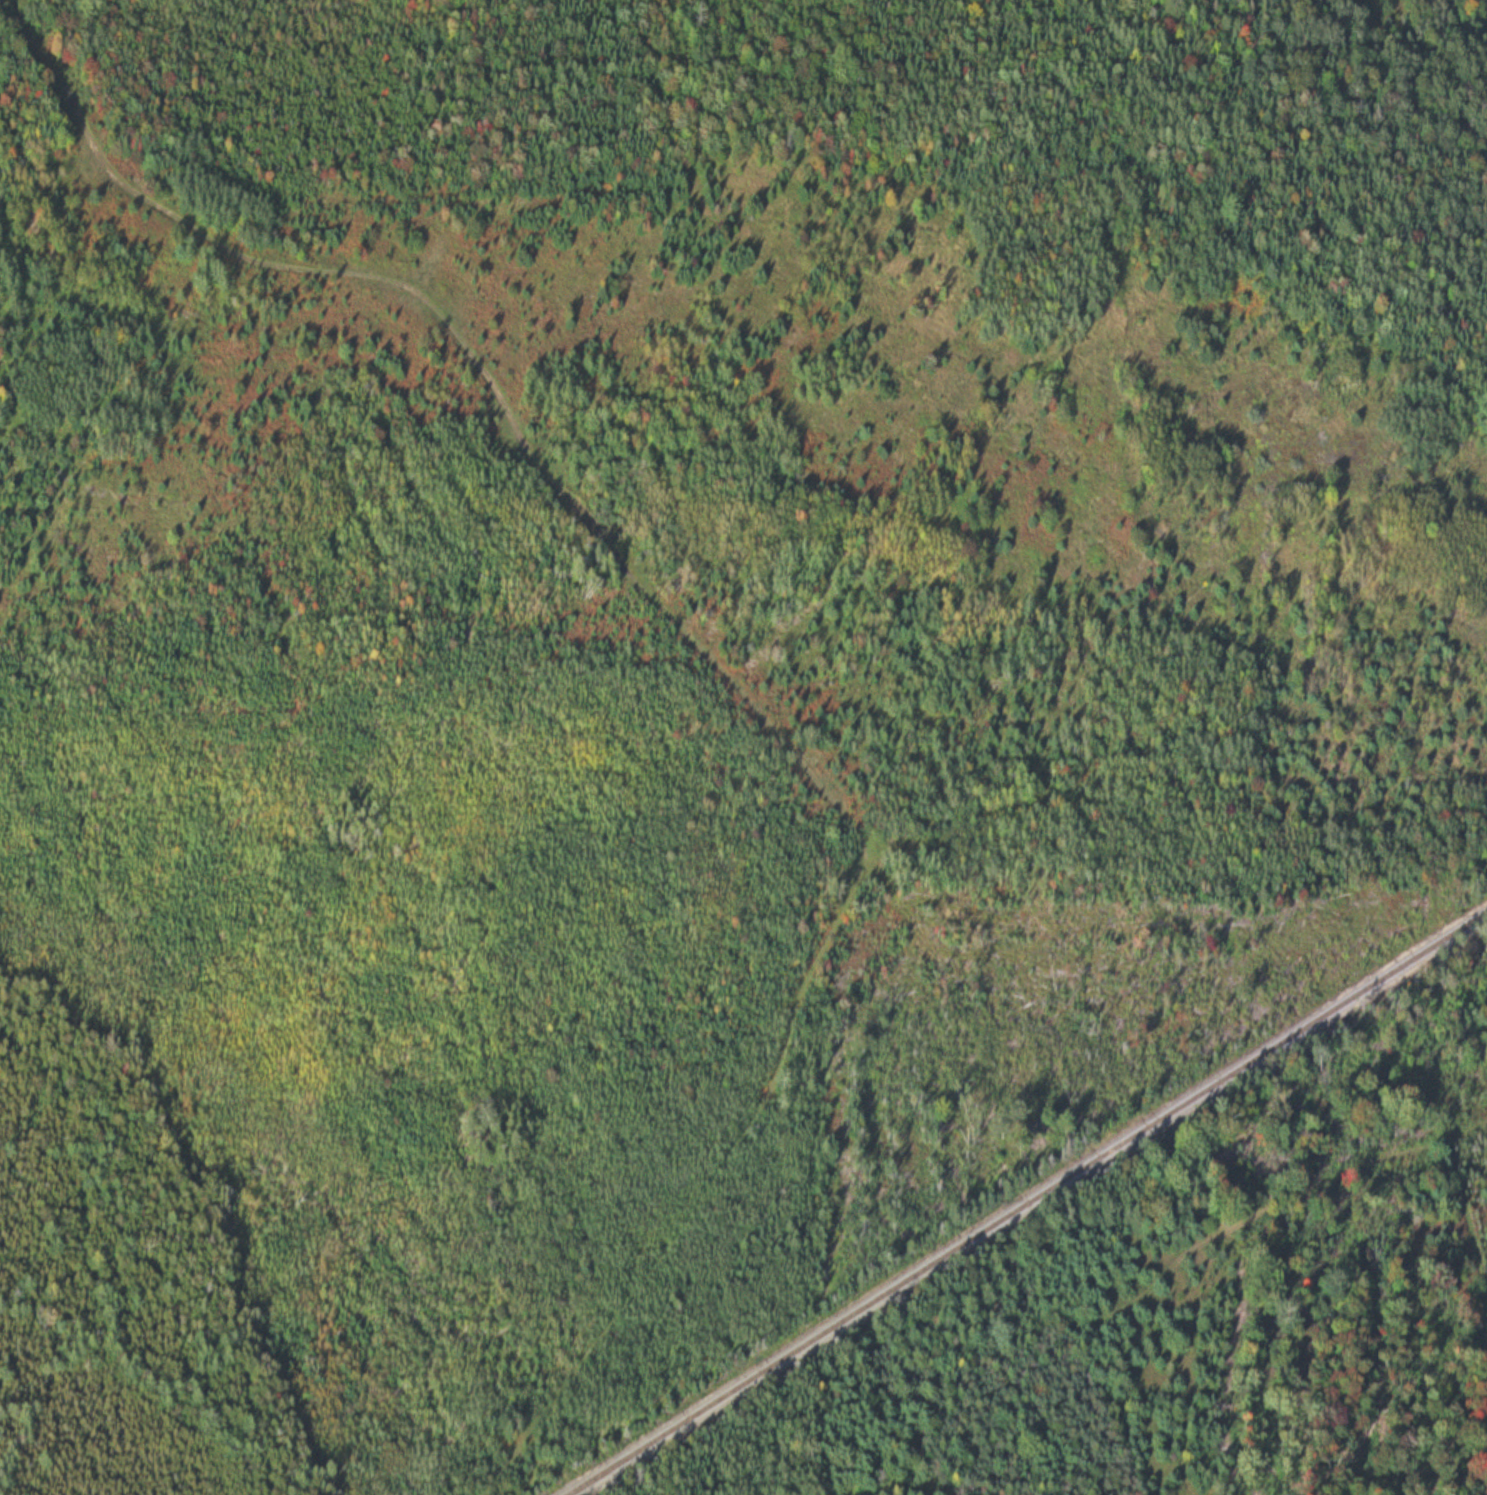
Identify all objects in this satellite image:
railway: (1027, 1204)

